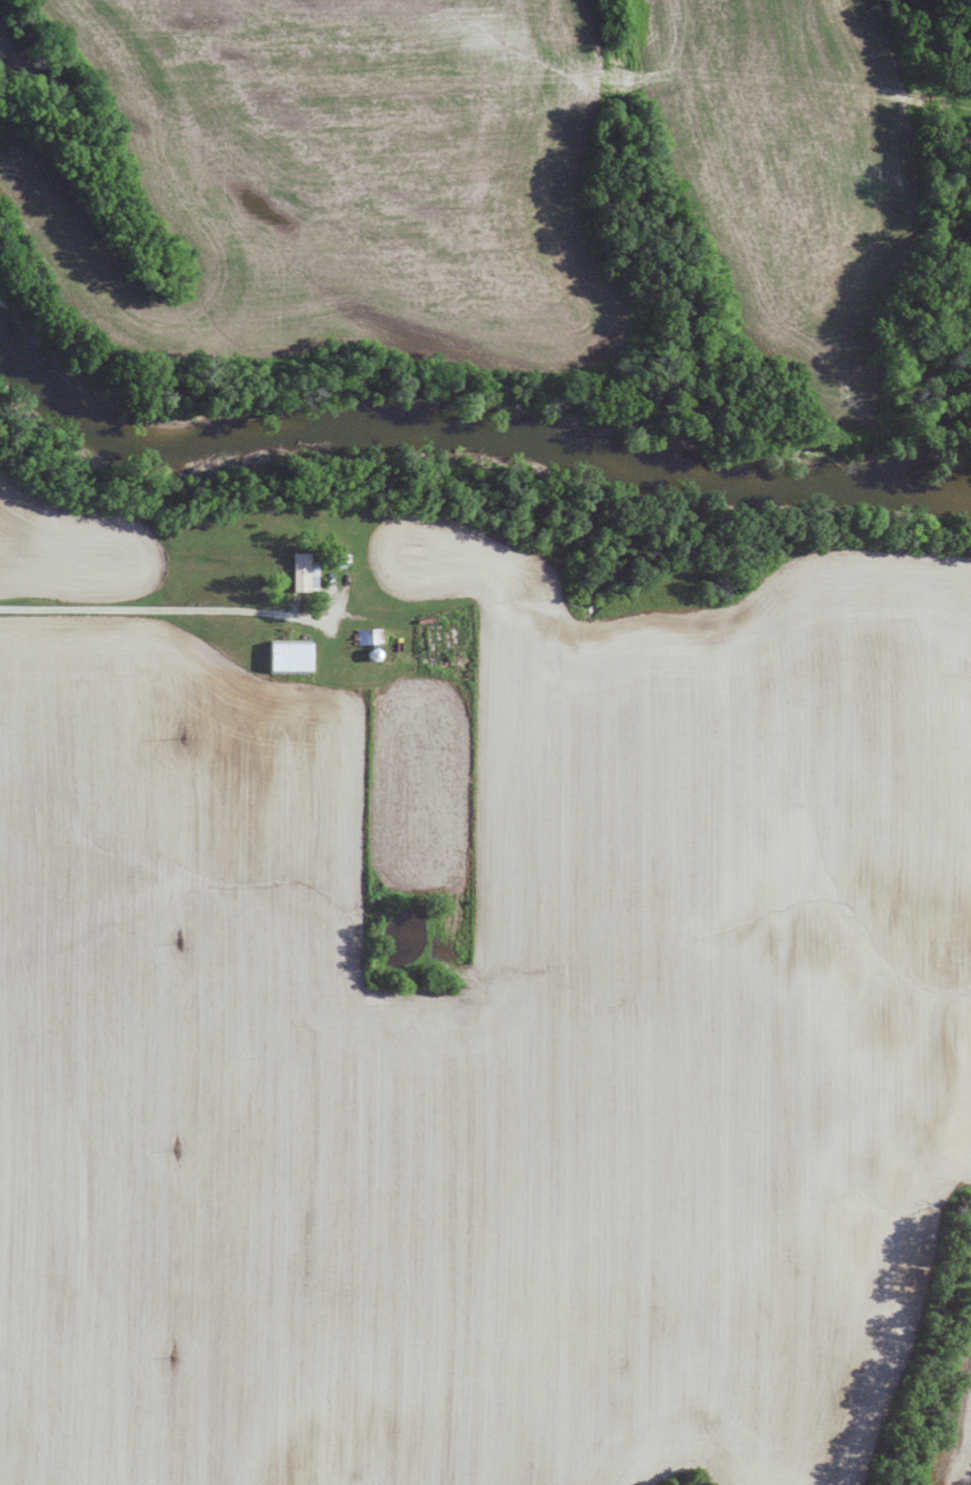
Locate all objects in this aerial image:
river: (457, 429)
building: (301, 572)
building: (361, 636)
building: (288, 655)

